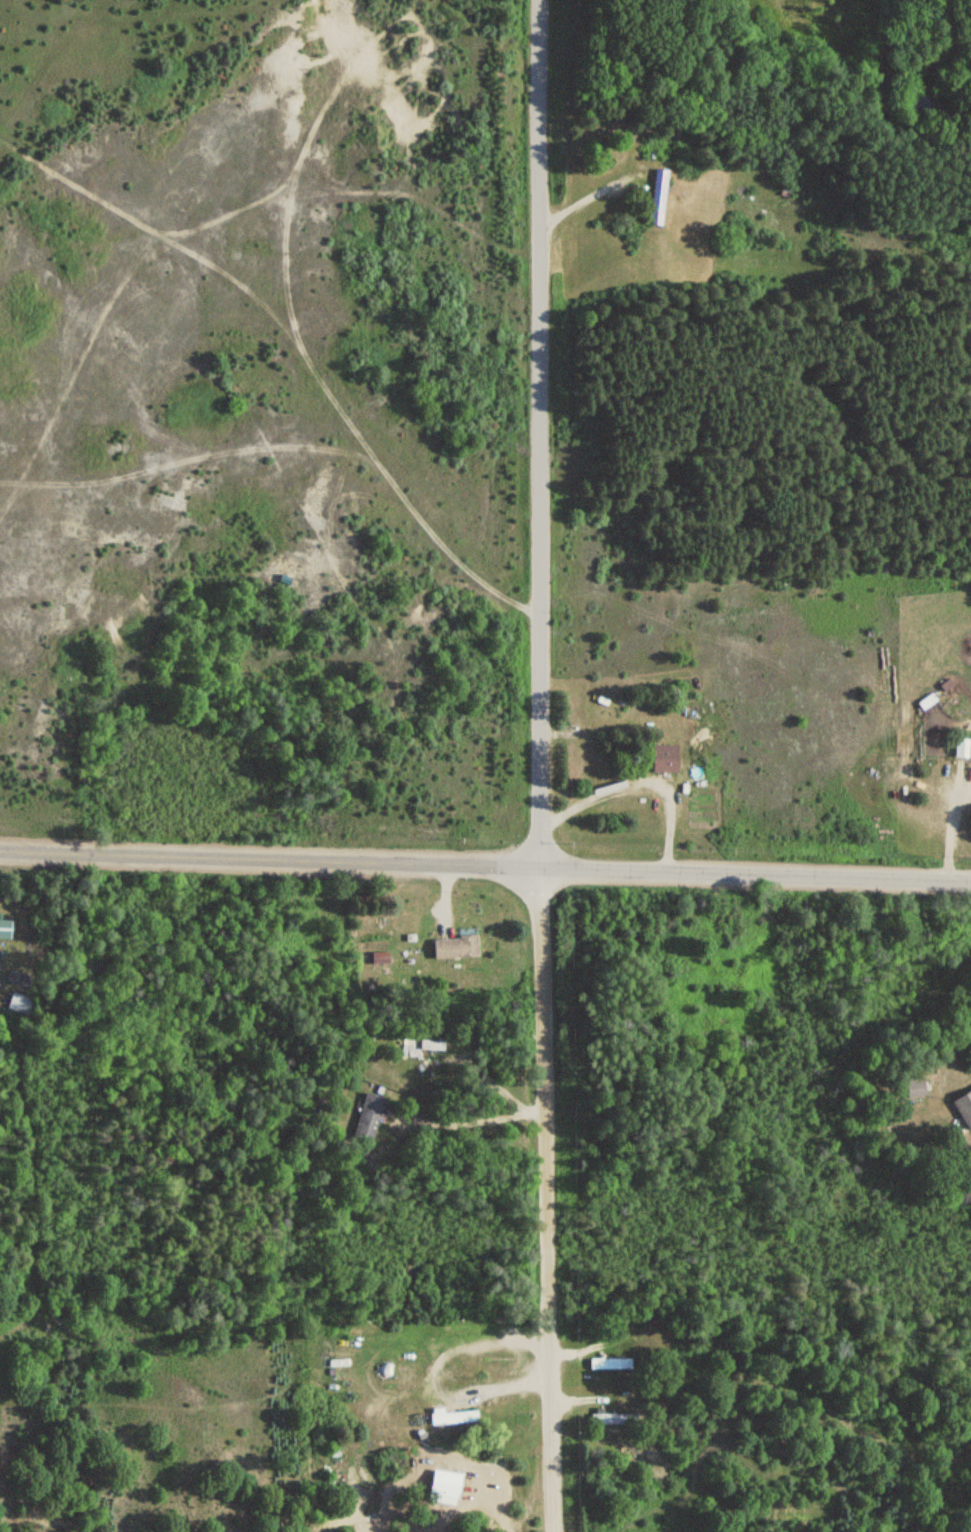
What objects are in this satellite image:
building: (656, 197)
road: (538, 434)
building: (924, 701)
building: (959, 748)
building: (662, 759)
road: (485, 866)
building: (3, 925)
building: (453, 947)
building: (378, 958)
building: (19, 1002)
building: (421, 1044)
building: (913, 1086)
building: (963, 1106)
building: (366, 1117)
road: (547, 1199)
building: (608, 1363)
building: (451, 1417)
building: (614, 1418)

